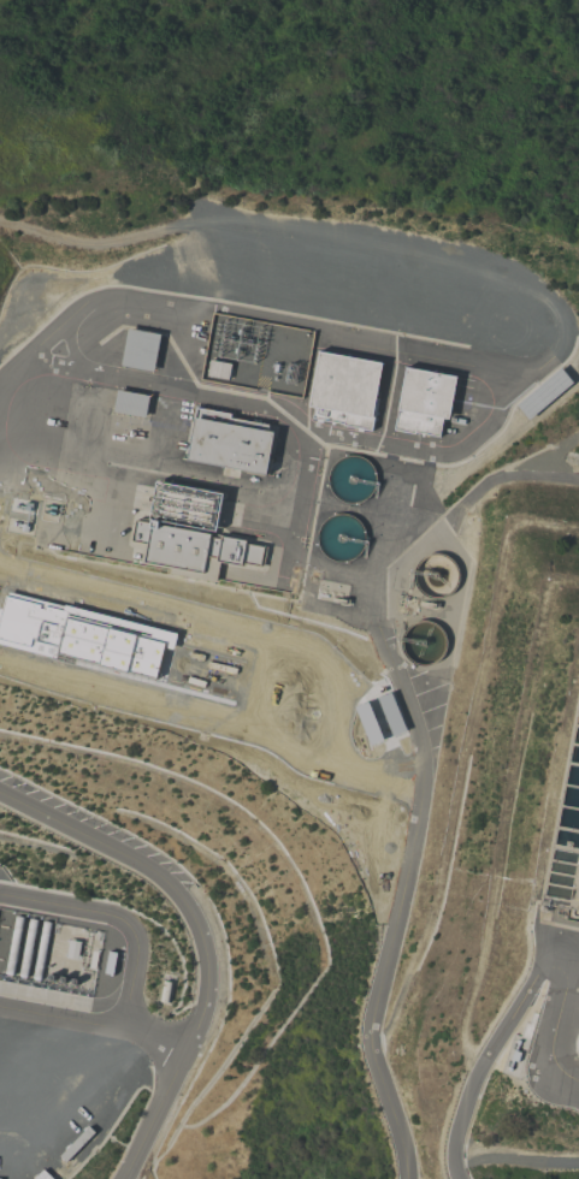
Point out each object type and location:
building: (141, 351)
building: (345, 393)
building: (545, 395)
building: (425, 404)
building: (131, 405)
building: (231, 445)
building: (191, 535)
road: (407, 843)
road: (117, 919)
road: (201, 940)
road: (563, 952)
road: (560, 999)
road: (60, 1018)
road: (154, 1039)
building: (578, 1054)
road: (474, 1095)

